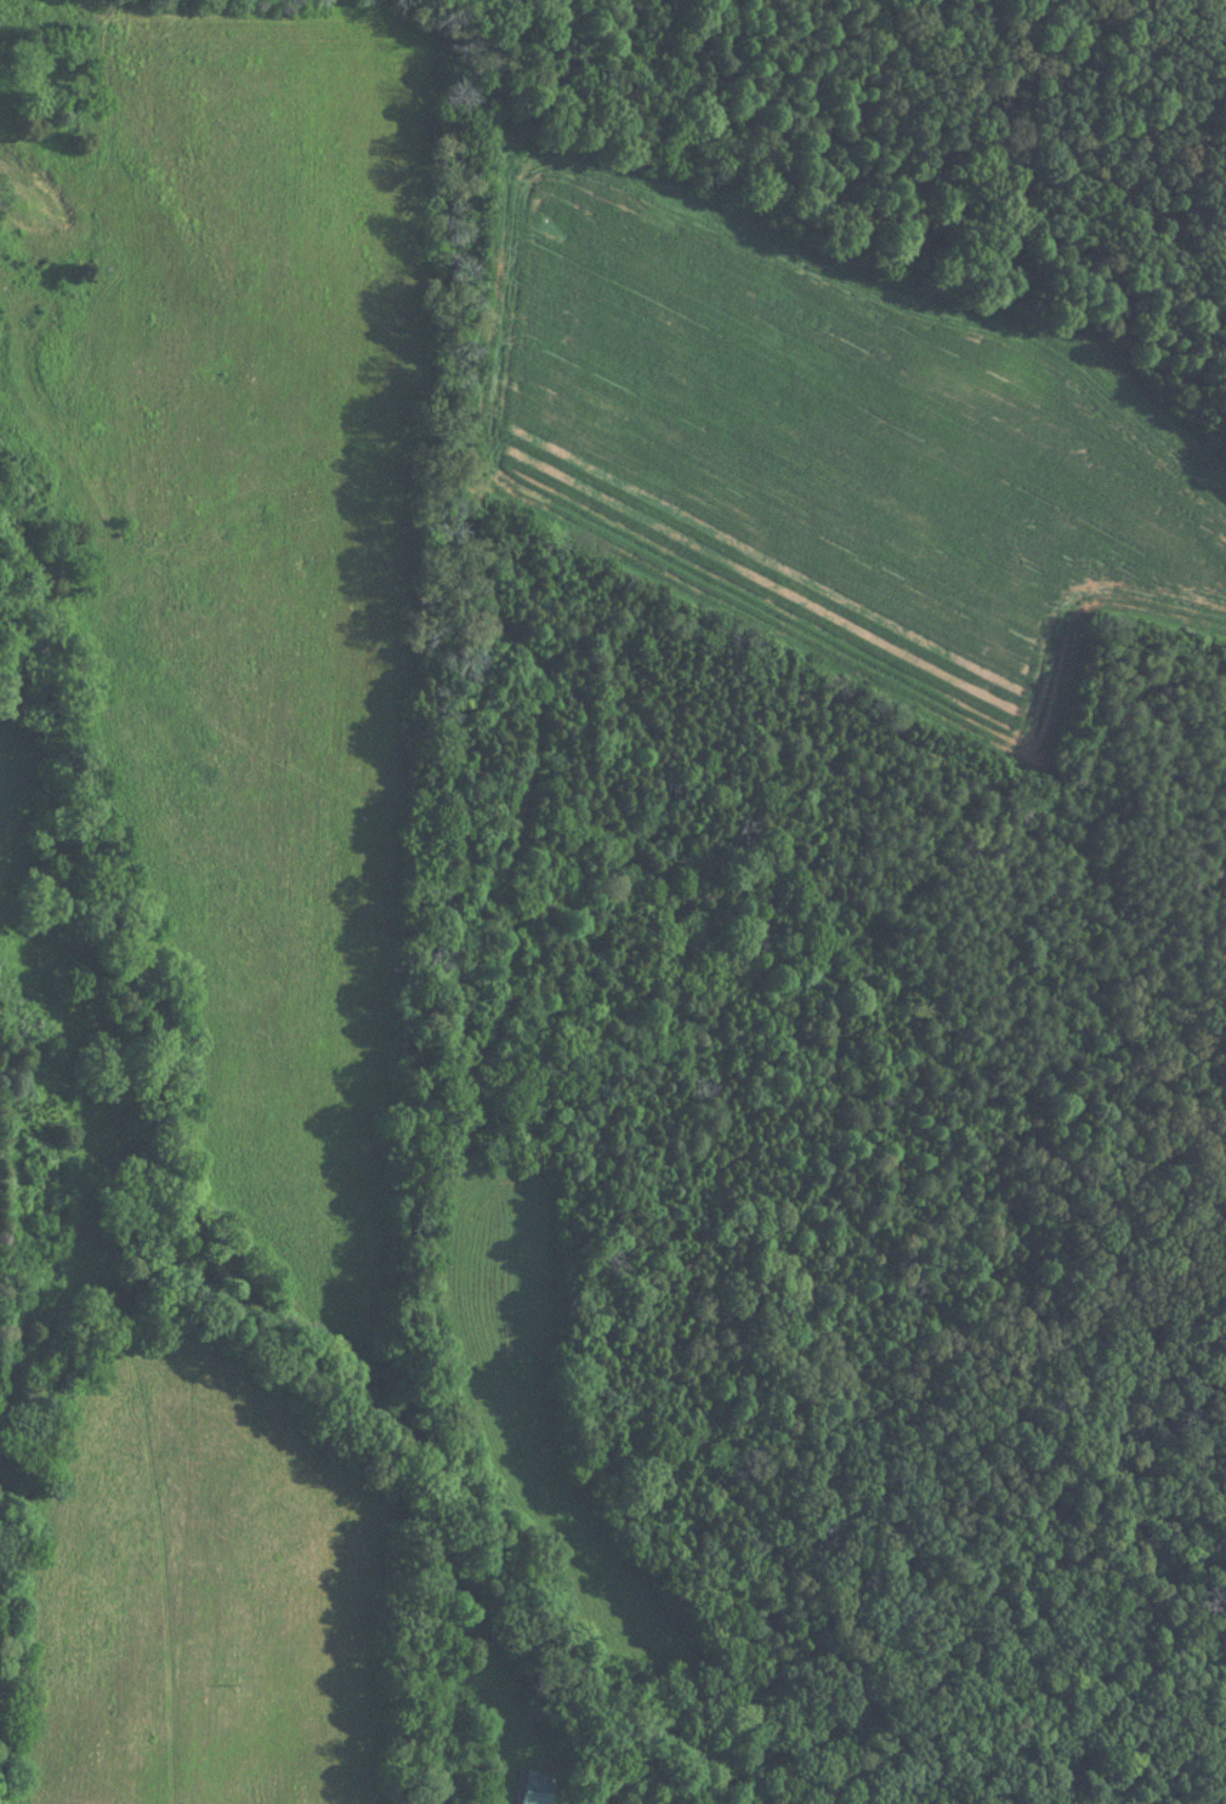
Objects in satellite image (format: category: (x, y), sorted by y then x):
building: (526, 1786)

